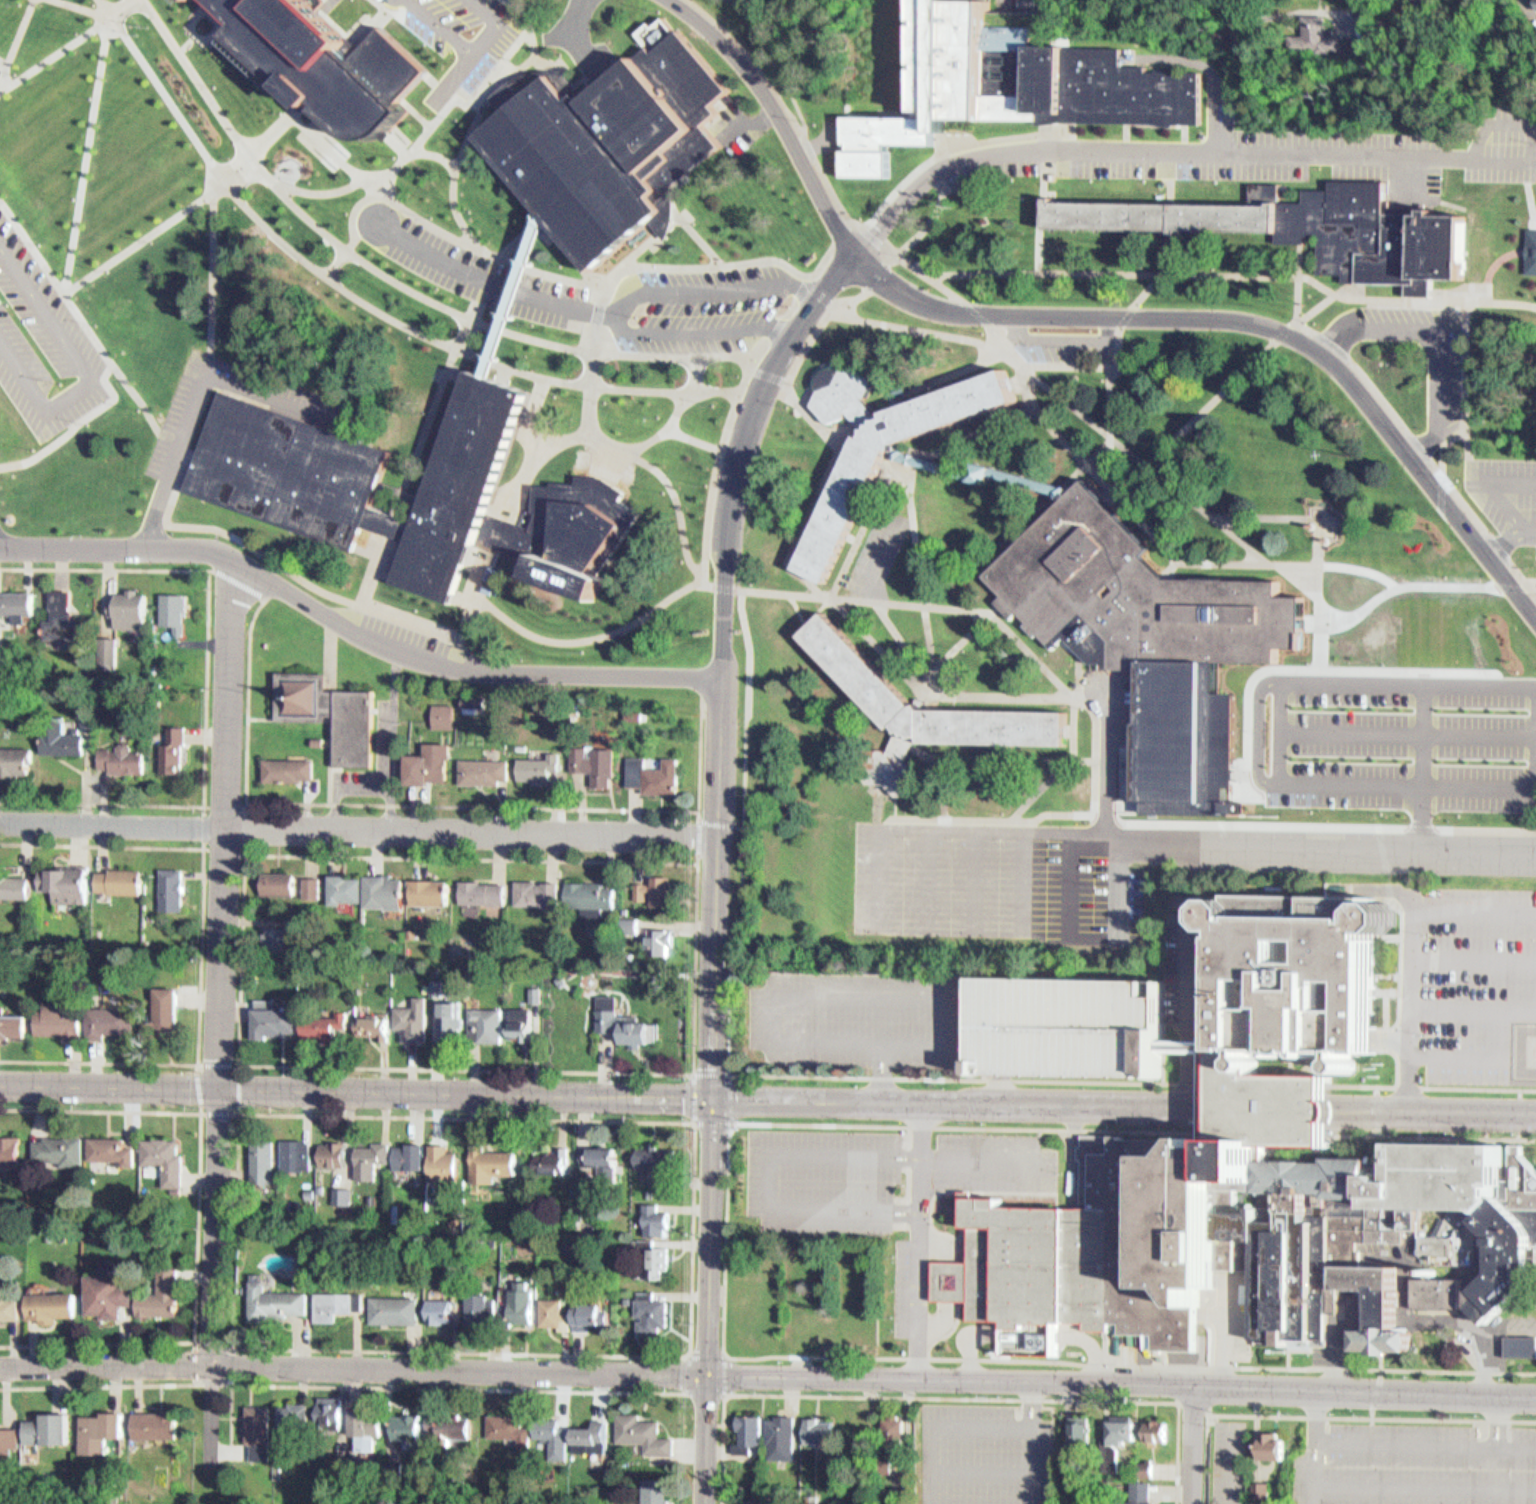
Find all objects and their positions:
building: (185, 0)
building: (1533, 2)
road: (199, 10)
road: (213, 11)
road: (94, 12)
road: (370, 24)
road: (526, 26)
flagpole: (139, 27)
flagpole: (147, 28)
building: (1318, 32)
road: (17, 35)
flagpole: (137, 35)
parking lot: (459, 37)
road: (573, 37)
road: (410, 45)
road: (53, 53)
road: (470, 53)
road: (531, 53)
road: (776, 66)
road: (1, 67)
building: (322, 67)
road: (1, 76)
building: (1008, 83)
road: (448, 84)
road: (494, 88)
road: (456, 95)
road: (782, 101)
road: (418, 113)
road: (776, 113)
road: (1217, 119)
road: (462, 136)
building: (613, 143)
road: (394, 144)
road: (259, 146)
building: (98, 147)
road: (1171, 149)
road: (85, 154)
road: (447, 162)
road: (900, 174)
road: (316, 186)
road: (1528, 188)
road: (388, 190)
road: (350, 209)
building: (1309, 230)
road: (520, 238)
road: (698, 241)
road: (32, 244)
building: (1529, 245)
road: (900, 248)
road: (567, 251)
road: (1504, 256)
road: (624, 261)
road: (737, 263)
road: (333, 264)
road: (551, 269)
road: (818, 269)
road: (215, 271)
road: (1233, 275)
road: (485, 279)
parking lot: (716, 279)
road: (491, 281)
building: (514, 296)
road: (622, 303)
road: (595, 311)
road: (85, 321)
road: (1252, 323)
road: (1432, 334)
parking lot: (46, 340)
road: (983, 341)
road: (211, 365)
road: (1065, 365)
road: (86, 373)
road: (765, 375)
road: (500, 376)
parking lot: (1440, 379)
road: (437, 391)
road: (732, 391)
road: (1218, 394)
road: (200, 396)
road: (140, 398)
road: (587, 399)
road: (532, 414)
road: (1077, 414)
road: (664, 426)
road: (841, 430)
road: (1109, 432)
road: (1408, 434)
road: (971, 436)
road: (693, 437)
road: (180, 441)
road: (1447, 442)
building: (882, 448)
road: (834, 455)
road: (529, 456)
building: (981, 472)
building: (300, 475)
road: (1491, 478)
road: (712, 483)
building: (462, 486)
road: (667, 486)
parking lot: (1507, 501)
road: (727, 525)
building: (561, 531)
road: (1506, 531)
road: (229, 538)
road: (1320, 539)
road: (126, 553)
road: (1169, 566)
road: (919, 567)
road: (474, 572)
road: (1308, 574)
road: (723, 581)
road: (238, 584)
road: (1423, 591)
road: (864, 595)
building: (16, 597)
building: (172, 604)
road: (800, 605)
building: (131, 606)
road: (490, 610)
building: (66, 615)
road: (1479, 619)
road: (1311, 622)
building: (1143, 627)
building: (1, 630)
road: (903, 634)
building: (108, 643)
road: (877, 643)
road: (954, 646)
road: (474, 668)
road: (1334, 678)
road: (1211, 682)
road: (208, 685)
road: (1219, 693)
road: (997, 694)
road: (1075, 697)
building: (327, 706)
building: (439, 708)
building: (917, 711)
building: (445, 716)
parking lot: (1388, 718)
road: (1405, 718)
building: (93, 721)
road: (1068, 726)
building: (57, 731)
road: (1291, 734)
road: (1519, 741)
building: (171, 744)
road: (1011, 750)
building: (119, 754)
road: (1405, 756)
building: (15, 757)
building: (424, 759)
building: (533, 762)
building: (288, 763)
building: (479, 763)
building: (590, 763)
road: (1059, 764)
road: (1421, 766)
building: (648, 769)
road: (936, 773)
road: (1256, 790)
road: (1404, 795)
road: (819, 801)
road: (425, 806)
road: (247, 807)
road: (1176, 814)
road: (1116, 815)
road: (700, 816)
road: (982, 818)
road: (1337, 819)
road: (702, 822)
road: (359, 827)
road: (1327, 848)
parking lot: (987, 871)
building: (117, 874)
building: (66, 878)
building: (276, 878)
building: (14, 882)
building: (307, 882)
building: (171, 883)
building: (344, 883)
building: (380, 885)
building: (426, 885)
building: (479, 885)
building: (650, 885)
building: (532, 888)
building: (584, 889)
building: (276, 935)
building: (654, 937)
road: (204, 954)
parking lot: (1475, 976)
building: (564, 977)
building: (438, 982)
building: (1305, 982)
building: (538, 992)
building: (169, 1007)
building: (415, 1018)
building: (624, 1018)
building: (110, 1020)
building: (275, 1020)
parking lot: (854, 1020)
building: (62, 1023)
building: (453, 1023)
building: (490, 1024)
building: (525, 1024)
building: (14, 1026)
building: (324, 1028)
building: (375, 1028)
building: (1066, 1028)
parking garage: (1066, 1028)
road: (225, 1035)
building: (1183, 1046)
road: (243, 1063)
road: (792, 1075)
road: (1440, 1087)
traffic signals: (712, 1099)
road: (767, 1100)
building: (1268, 1102)
road: (1374, 1110)
road: (241, 1113)
road: (733, 1126)
building: (64, 1148)
building: (11, 1149)
building: (112, 1150)
building: (296, 1154)
building: (332, 1154)
building: (658, 1154)
building: (410, 1155)
building: (263, 1157)
building: (165, 1158)
building: (604, 1158)
building: (370, 1159)
building: (555, 1159)
building: (442, 1162)
building: (491, 1163)
road: (711, 1168)
parking lot: (875, 1187)
building: (650, 1192)
building: (343, 1196)
building: (657, 1215)
road: (200, 1224)
building: (1255, 1236)
road: (728, 1242)
building: (655, 1260)
building: (955, 1278)
building: (1435, 1292)
building: (107, 1296)
building: (162, 1296)
building: (628, 1298)
building: (273, 1302)
building: (525, 1302)
building: (333, 1305)
building: (51, 1307)
building: (9, 1309)
building: (482, 1309)
building: (394, 1310)
building: (441, 1310)
building: (654, 1310)
building: (558, 1312)
building: (592, 1314)
road: (236, 1344)
building: (1026, 1345)
building: (1522, 1346)
traffic signals: (708, 1372)
road: (768, 1374)
road: (230, 1380)
road: (100, 1386)
road: (457, 1387)
road: (1374, 1393)
road: (726, 1396)
road: (948, 1397)
road: (1193, 1408)
building: (331, 1413)
road: (1327, 1417)
building: (296, 1421)
building: (156, 1425)
building: (408, 1425)
building: (1121, 1427)
building: (509, 1429)
building: (821, 1429)
building: (1155, 1429)
building: (52, 1430)
building: (259, 1430)
building: (366, 1430)
building: (447, 1430)
building: (1081, 1430)
building: (751, 1431)
building: (102, 1432)
building: (646, 1432)
building: (555, 1433)
building: (784, 1435)
building: (896, 1435)
building: (595, 1436)
building: (8, 1441)
road: (1190, 1444)
building: (1272, 1444)
parking lot: (980, 1453)
parking lot: (1226, 1461)
parking lot: (1421, 1463)
building: (1067, 1464)
building: (888, 1471)
building: (1262, 1487)
building: (658, 1490)
building: (1141, 1491)
building: (813, 1497)
building: (762, 1500)

